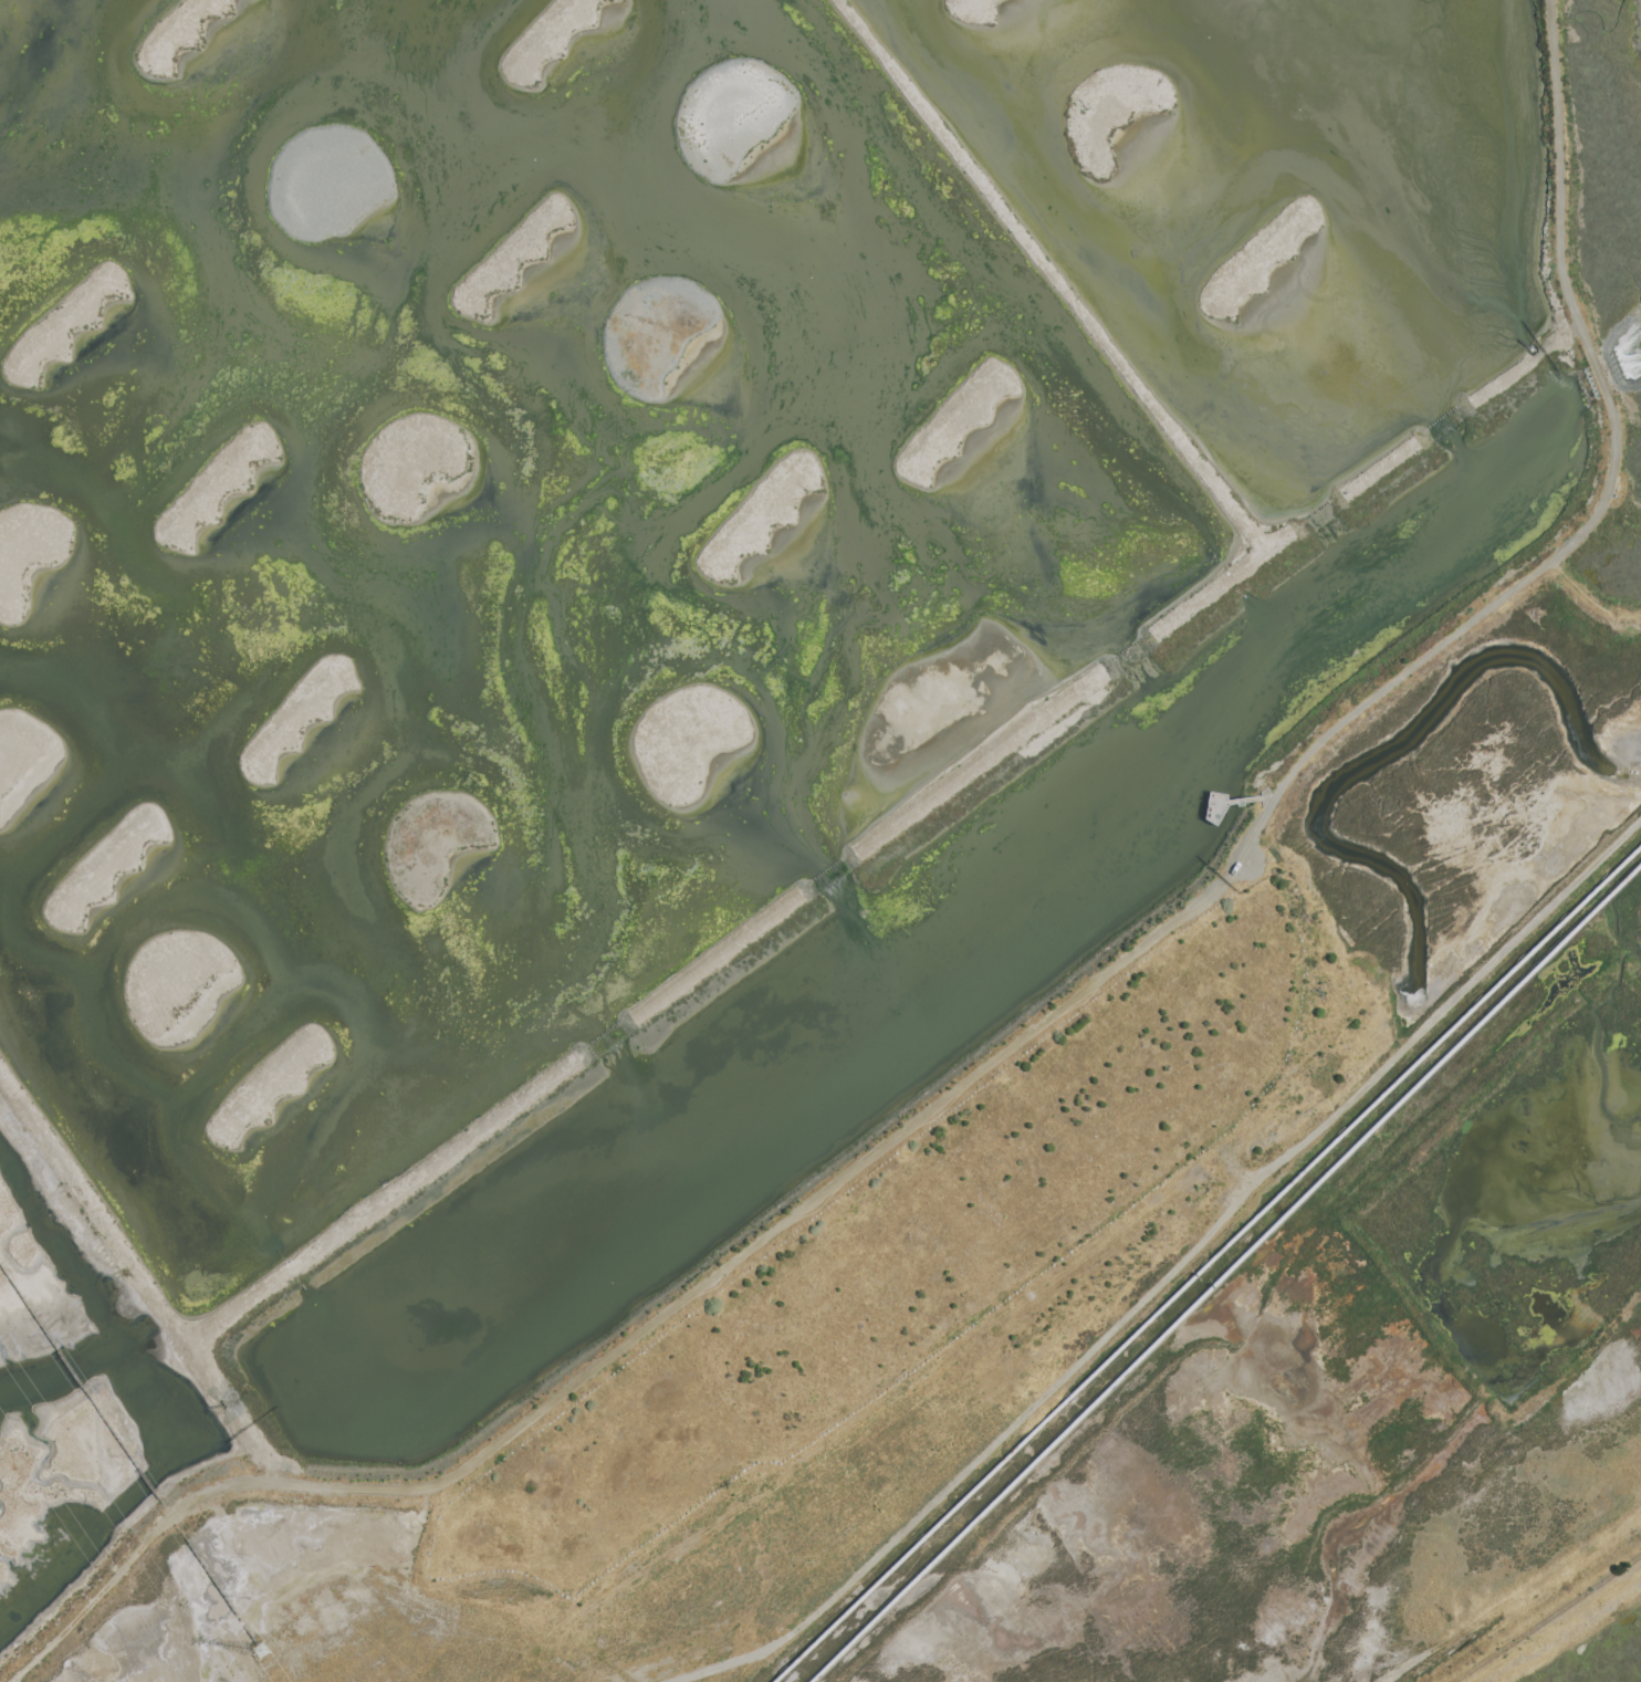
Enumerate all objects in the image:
road: (1598, 504)
road: (1253, 800)
road: (1206, 821)
road: (1205, 1236)
road: (642, 1331)
railway: (1546, 1619)
power tower: (265, 1654)
road: (718, 1665)

